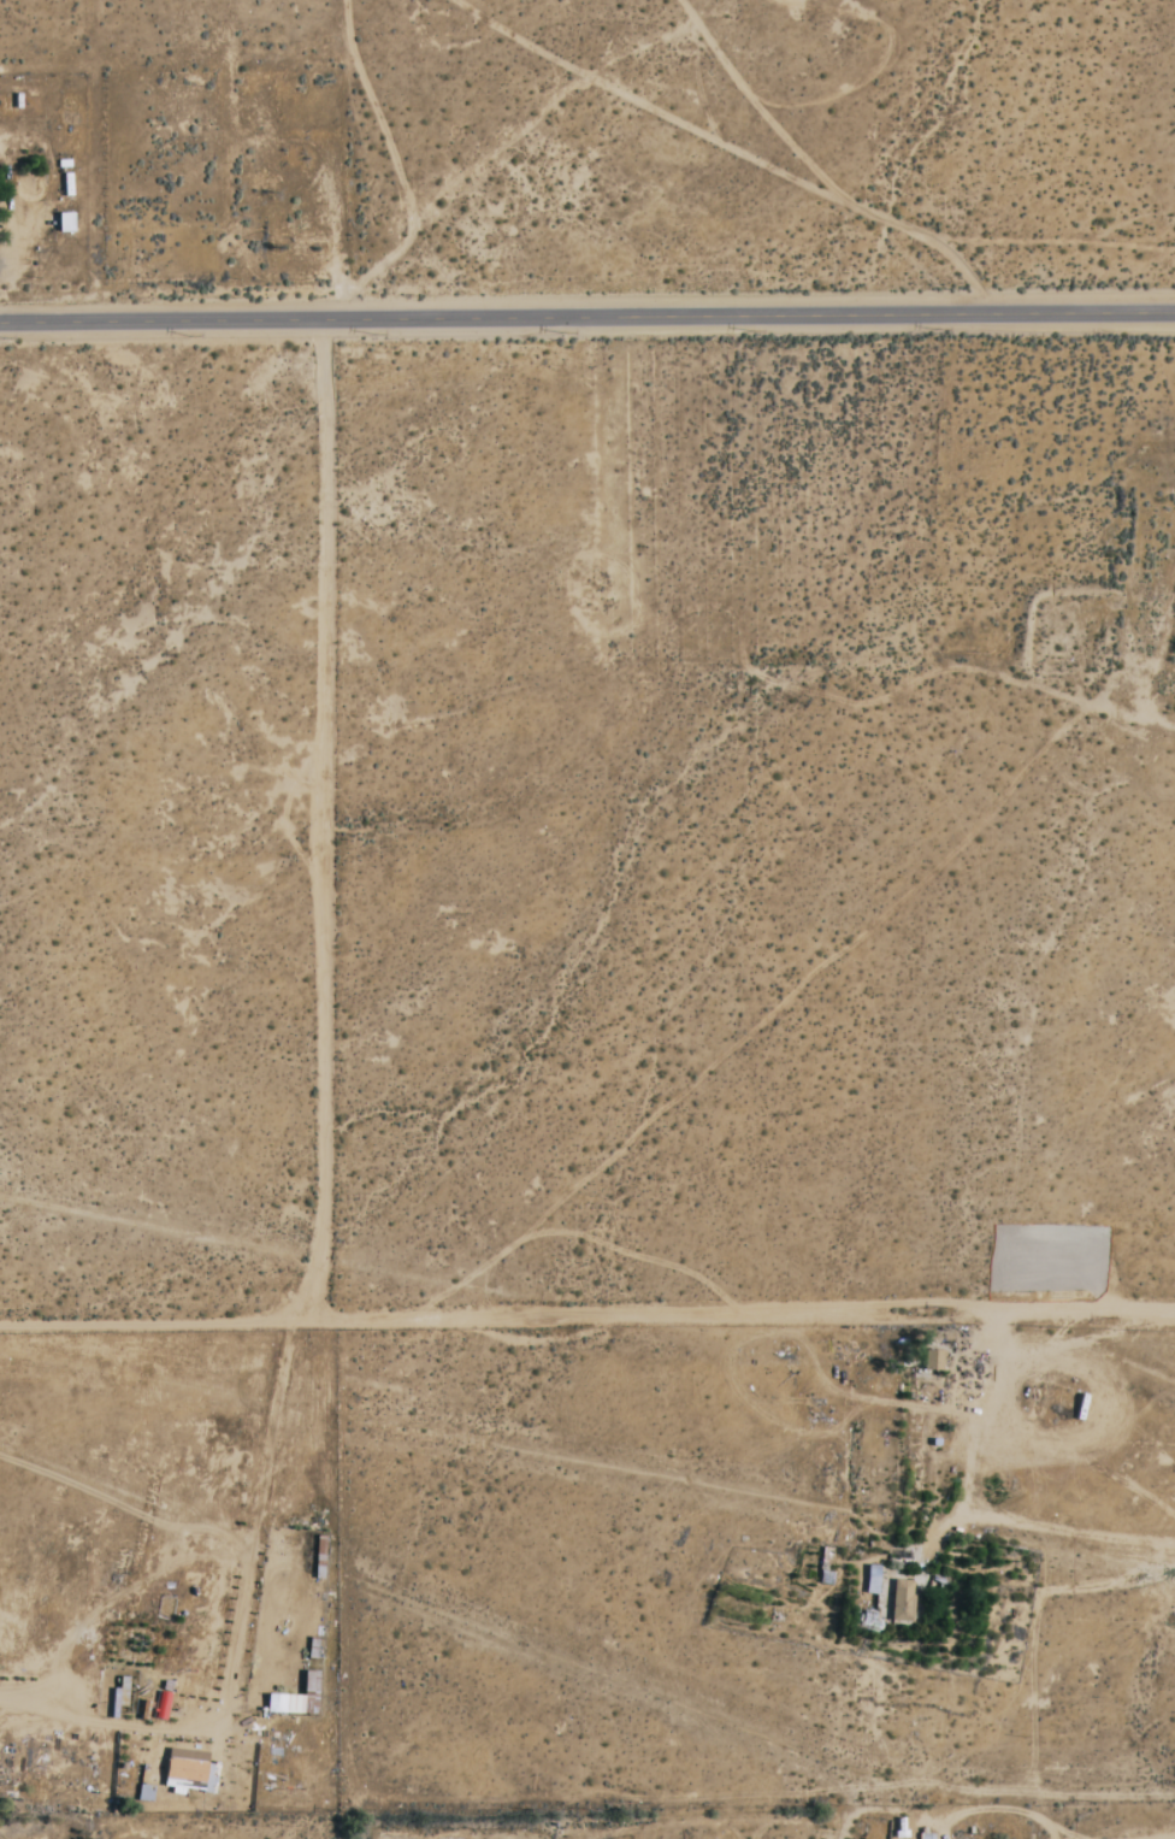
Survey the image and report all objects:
building: (64, 223)
road: (586, 317)
road: (318, 817)
road: (586, 1313)
building: (932, 1361)
building: (873, 1580)
building: (902, 1601)
building: (293, 1697)
building: (185, 1769)

